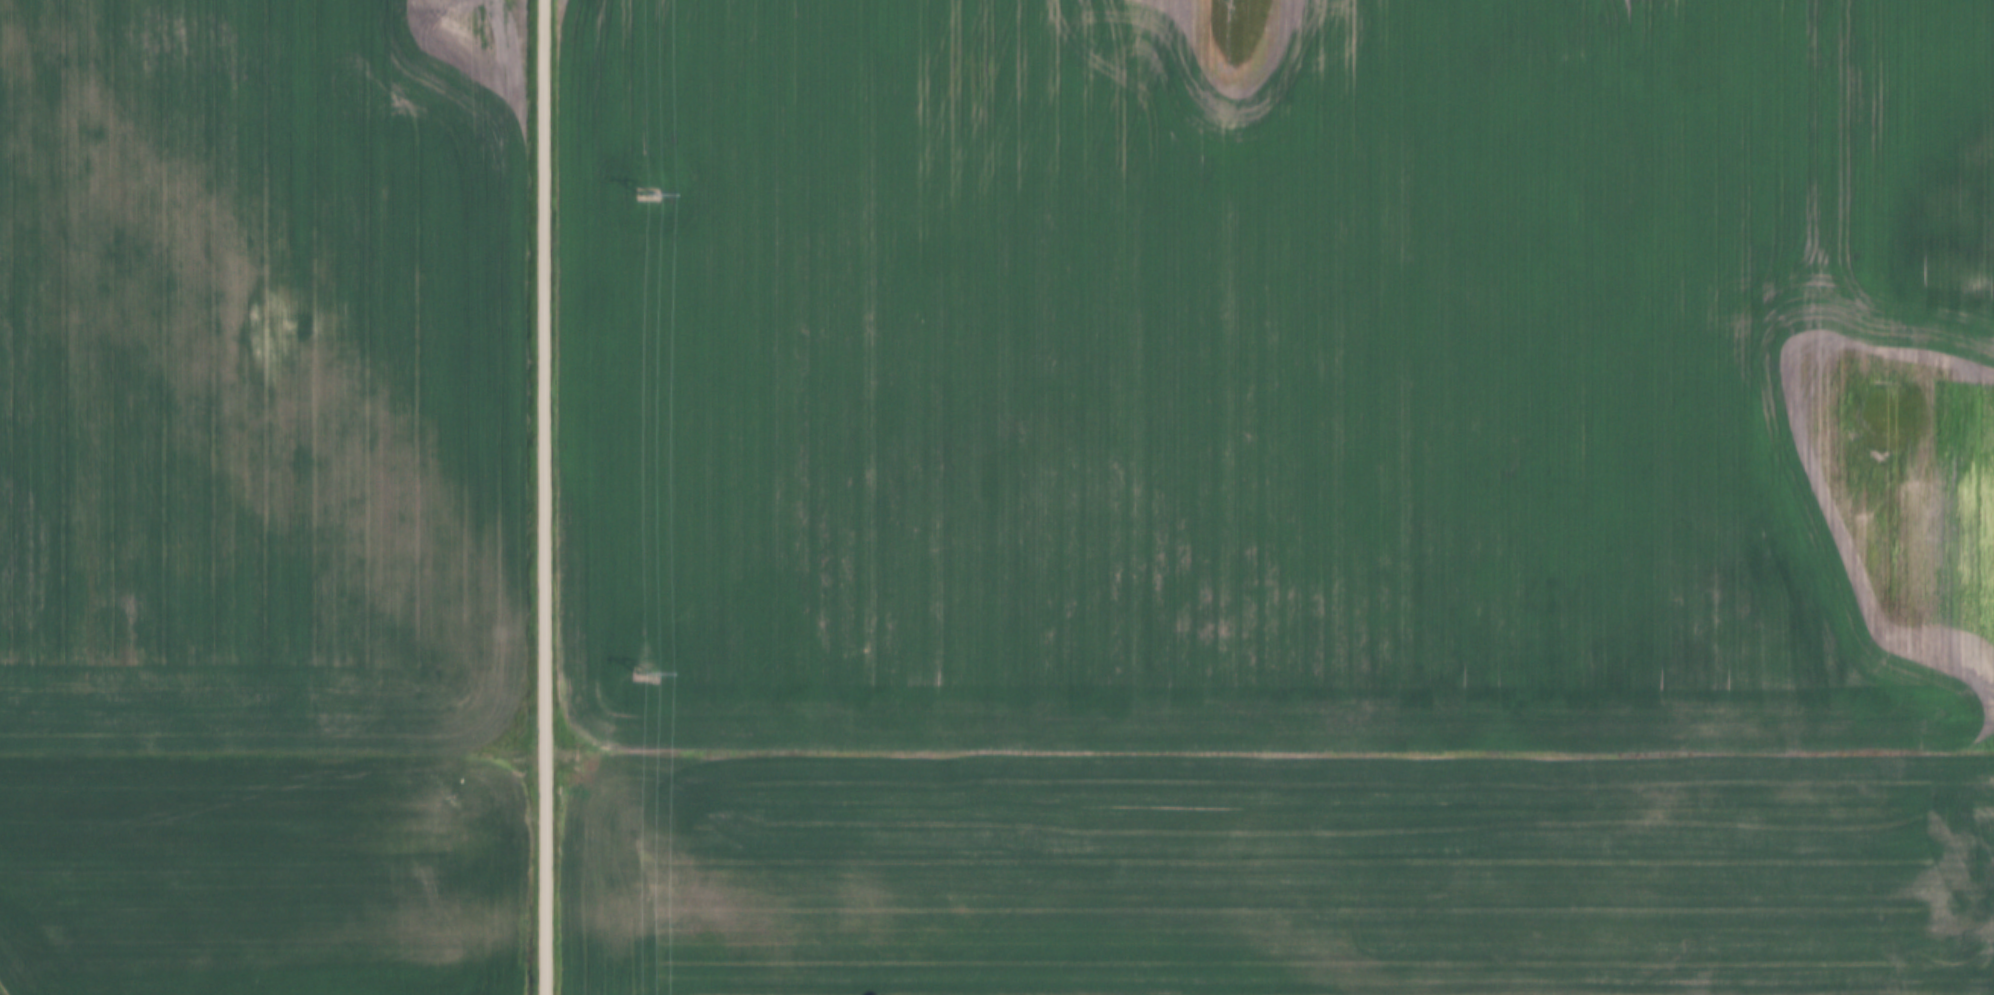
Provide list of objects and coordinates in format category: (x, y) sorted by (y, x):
power tower: (645, 196)
road: (546, 497)
power tower: (644, 675)

